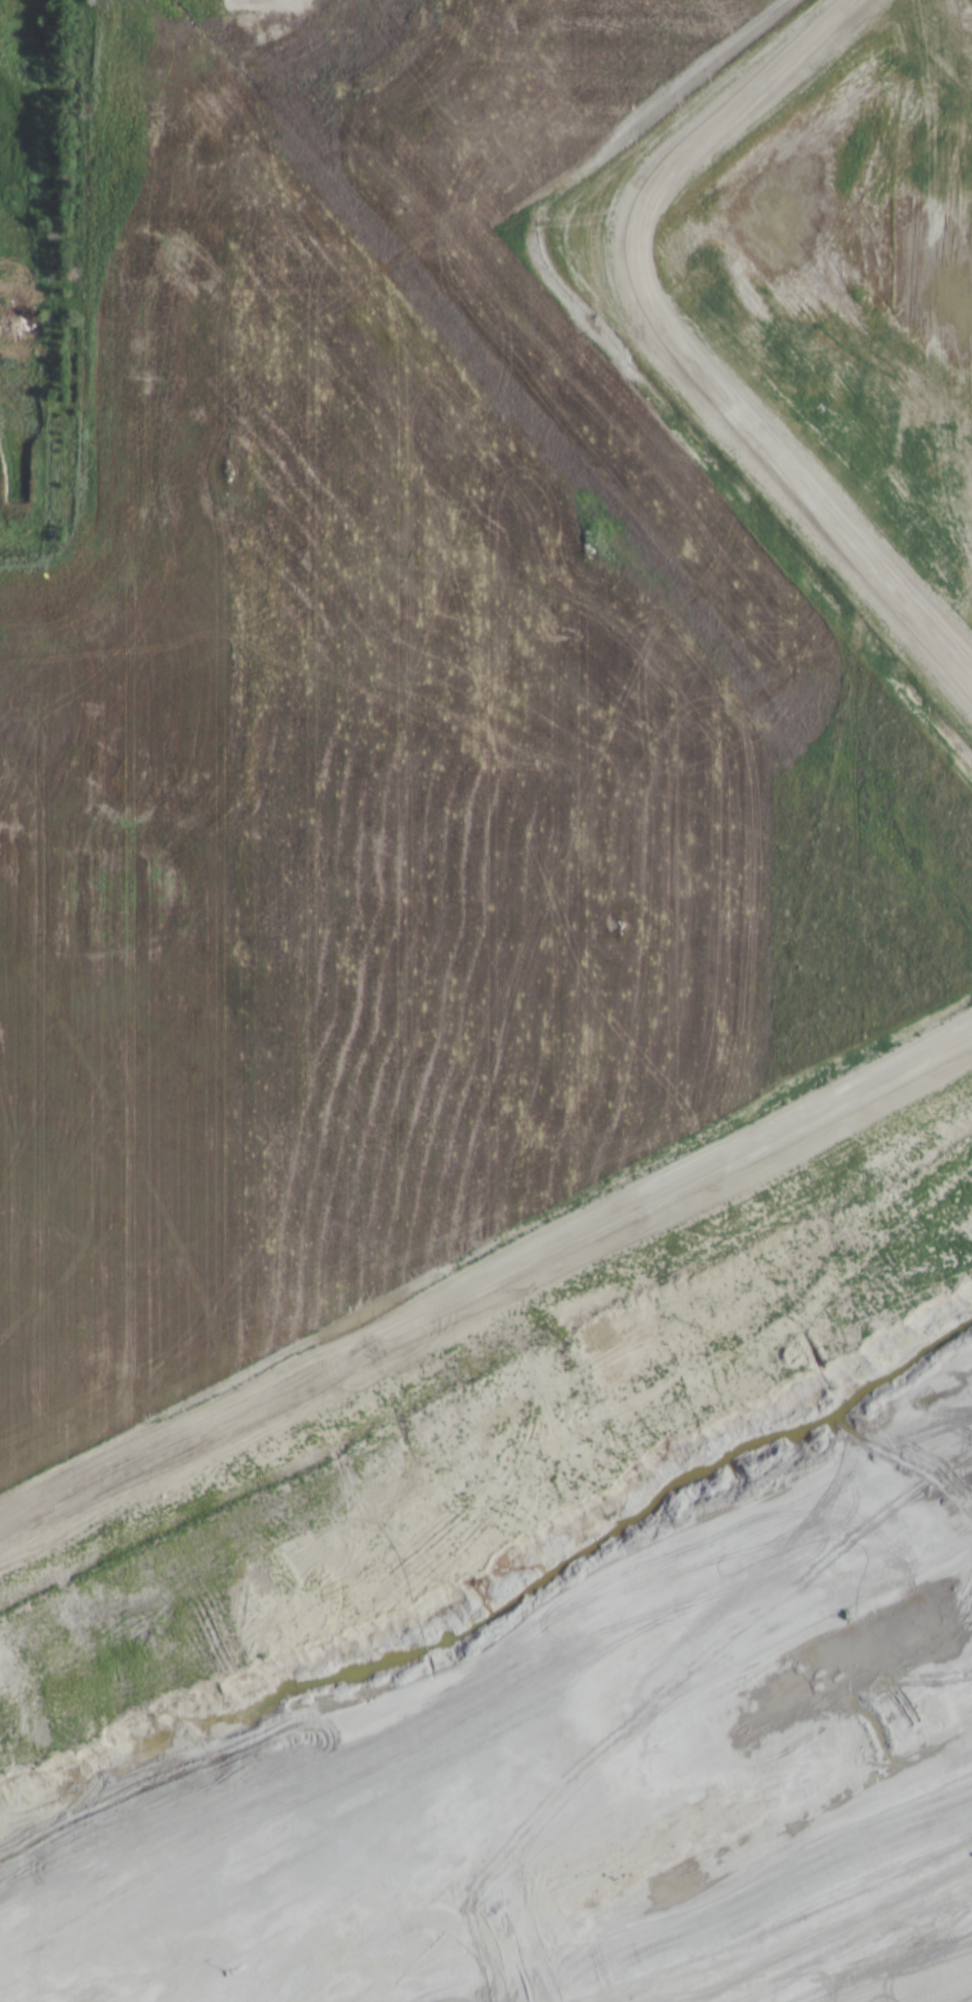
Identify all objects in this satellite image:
building: (23, 324)

